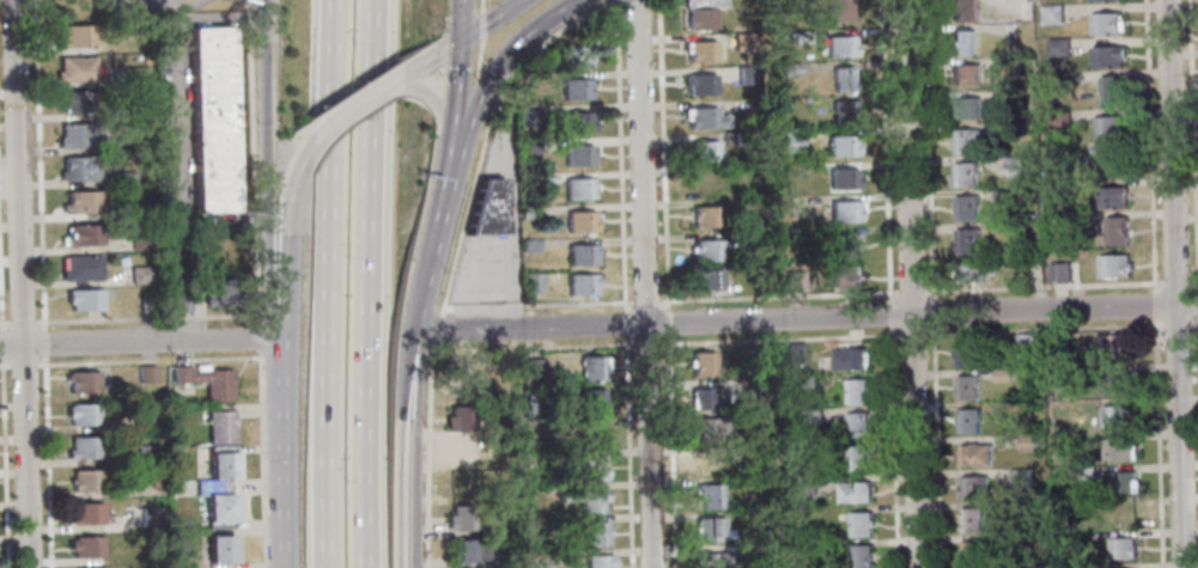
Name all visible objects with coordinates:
building: (1099, 0)
building: (831, 8)
building: (960, 10)
building: (701, 13)
building: (1052, 14)
road: (460, 17)
road: (489, 18)
road: (549, 19)
building: (1106, 24)
building: (77, 36)
traffic signals: (461, 36)
building: (798, 36)
building: (960, 41)
building: (741, 42)
building: (1058, 45)
building: (838, 47)
road: (479, 49)
building: (699, 50)
road: (431, 55)
building: (570, 56)
building: (1107, 56)
building: (74, 69)
building: (789, 69)
building: (135, 74)
building: (747, 74)
building: (963, 74)
building: (843, 79)
building: (1057, 80)
building: (699, 84)
road: (456, 86)
building: (574, 88)
building: (1111, 91)
building: (1010, 96)
building: (77, 100)
road: (354, 106)
building: (966, 106)
building: (134, 109)
building: (843, 112)
building: (525, 115)
building: (705, 118)
building: (1058, 118)
building: (498, 120)
building: (209, 122)
road: (469, 122)
building: (576, 122)
building: (1011, 128)
building: (1107, 128)
road: (486, 129)
building: (78, 135)
building: (741, 138)
building: (790, 141)
building: (967, 141)
building: (840, 145)
road: (1150, 145)
road: (1192, 145)
building: (525, 146)
road: (926, 147)
road: (886, 149)
building: (703, 151)
road: (663, 153)
building: (577, 154)
road: (619, 155)
road: (251, 160)
building: (1113, 161)
road: (38, 164)
building: (1014, 165)
building: (78, 169)
road: (19, 170)
road: (263, 170)
building: (743, 170)
building: (790, 170)
building: (963, 175)
road: (446, 176)
building: (122, 177)
building: (841, 177)
building: (540, 179)
building: (704, 183)
building: (577, 188)
building: (1002, 195)
building: (1109, 197)
building: (80, 202)
building: (748, 204)
building: (966, 208)
building: (482, 209)
building: (843, 210)
building: (525, 212)
building: (705, 215)
building: (1063, 219)
building: (579, 221)
road: (287, 228)
building: (1114, 232)
building: (85, 234)
building: (139, 240)
building: (966, 240)
building: (846, 244)
building: (528, 245)
building: (707, 249)
building: (579, 255)
building: (1113, 265)
building: (79, 269)
building: (971, 270)
building: (1058, 271)
building: (139, 275)
building: (844, 275)
road: (425, 277)
building: (707, 279)
building: (793, 279)
building: (531, 280)
road: (1175, 282)
road: (1193, 282)
road: (334, 283)
road: (373, 283)
building: (580, 283)
road: (644, 283)
road: (910, 283)
road: (1174, 283)
road: (1042, 287)
road: (910, 292)
building: (215, 294)
road: (779, 295)
building: (84, 299)
road: (647, 300)
building: (176, 301)
road: (539, 304)
road: (1197, 304)
road: (1154, 305)
building: (144, 306)
road: (931, 311)
road: (890, 314)
road: (144, 318)
road: (807, 318)
road: (20, 322)
road: (669, 322)
road: (1197, 322)
road: (4, 323)
road: (627, 324)
road: (1175, 325)
road: (1194, 325)
road: (281, 328)
road: (433, 328)
road: (1044, 330)
road: (912, 334)
road: (256, 336)
road: (151, 338)
road: (779, 338)
road: (12, 342)
road: (43, 342)
building: (1023, 342)
road: (0, 343)
road: (646, 343)
road: (630, 344)
road: (528, 346)
building: (1118, 346)
building: (762, 353)
building: (793, 353)
building: (965, 354)
building: (850, 359)
road: (145, 361)
building: (701, 364)
road: (4, 365)
road: (22, 365)
building: (531, 366)
building: (590, 367)
building: (144, 373)
building: (1002, 374)
building: (81, 381)
building: (203, 381)
building: (1113, 381)
building: (807, 384)
building: (458, 385)
building: (967, 386)
building: (856, 390)
building: (707, 398)
building: (591, 401)
building: (81, 414)
building: (810, 415)
building: (1117, 416)
building: (457, 419)
building: (141, 420)
building: (967, 420)
building: (498, 425)
building: (857, 425)
building: (218, 427)
building: (709, 428)
building: (596, 434)
building: (1028, 442)
road: (1159, 444)
building: (83, 446)
road: (937, 446)
road: (894, 448)
building: (1118, 448)
building: (765, 451)
building: (144, 452)
building: (462, 452)
road: (673, 452)
road: (280, 453)
road: (397, 453)
road: (630, 453)
building: (974, 453)
road: (26, 454)
road: (414, 454)
road: (427, 456)
building: (858, 457)
road: (259, 459)
building: (218, 460)
road: (4, 462)
road: (47, 462)
building: (705, 462)
building: (591, 466)
building: (1083, 471)
building: (219, 474)
building: (1018, 475)
building: (83, 481)
building: (152, 481)
building: (1118, 482)
building: (461, 484)
building: (973, 484)
building: (802, 485)
building: (852, 491)
building: (707, 496)
building: (590, 499)
building: (215, 501)
building: (1017, 506)
building: (85, 513)
building: (1123, 514)
building: (217, 515)
building: (148, 517)
building: (458, 517)
building: (971, 519)
building: (859, 523)
building: (706, 529)
building: (596, 533)
building: (217, 544)
building: (85, 546)
building: (1121, 548)
building: (467, 550)
building: (972, 551)
building: (861, 556)
building: (218, 557)
building: (712, 560)
building: (597, 562)

